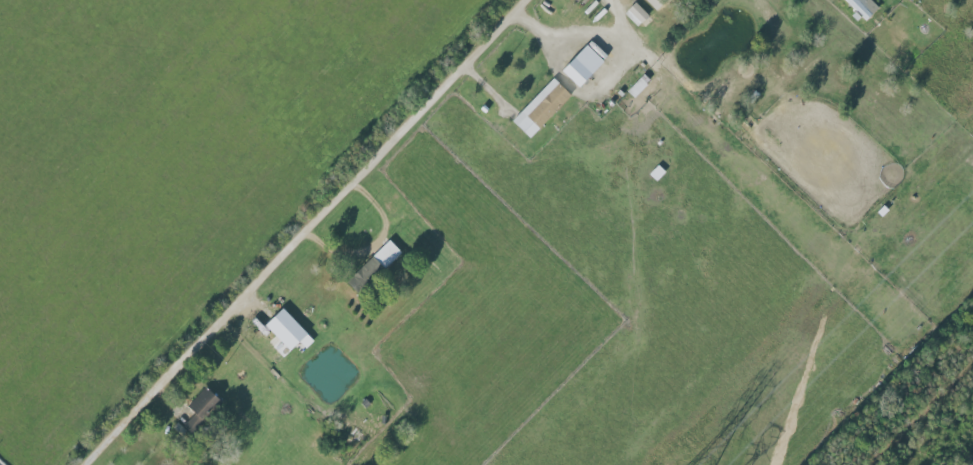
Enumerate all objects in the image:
building: (655, 3)
building: (863, 7)
building: (636, 13)
building: (582, 65)
building: (637, 87)
building: (541, 107)
road: (312, 231)
road: (372, 242)
building: (373, 267)
building: (285, 329)
railway: (945, 394)
building: (200, 407)
railway: (895, 443)

